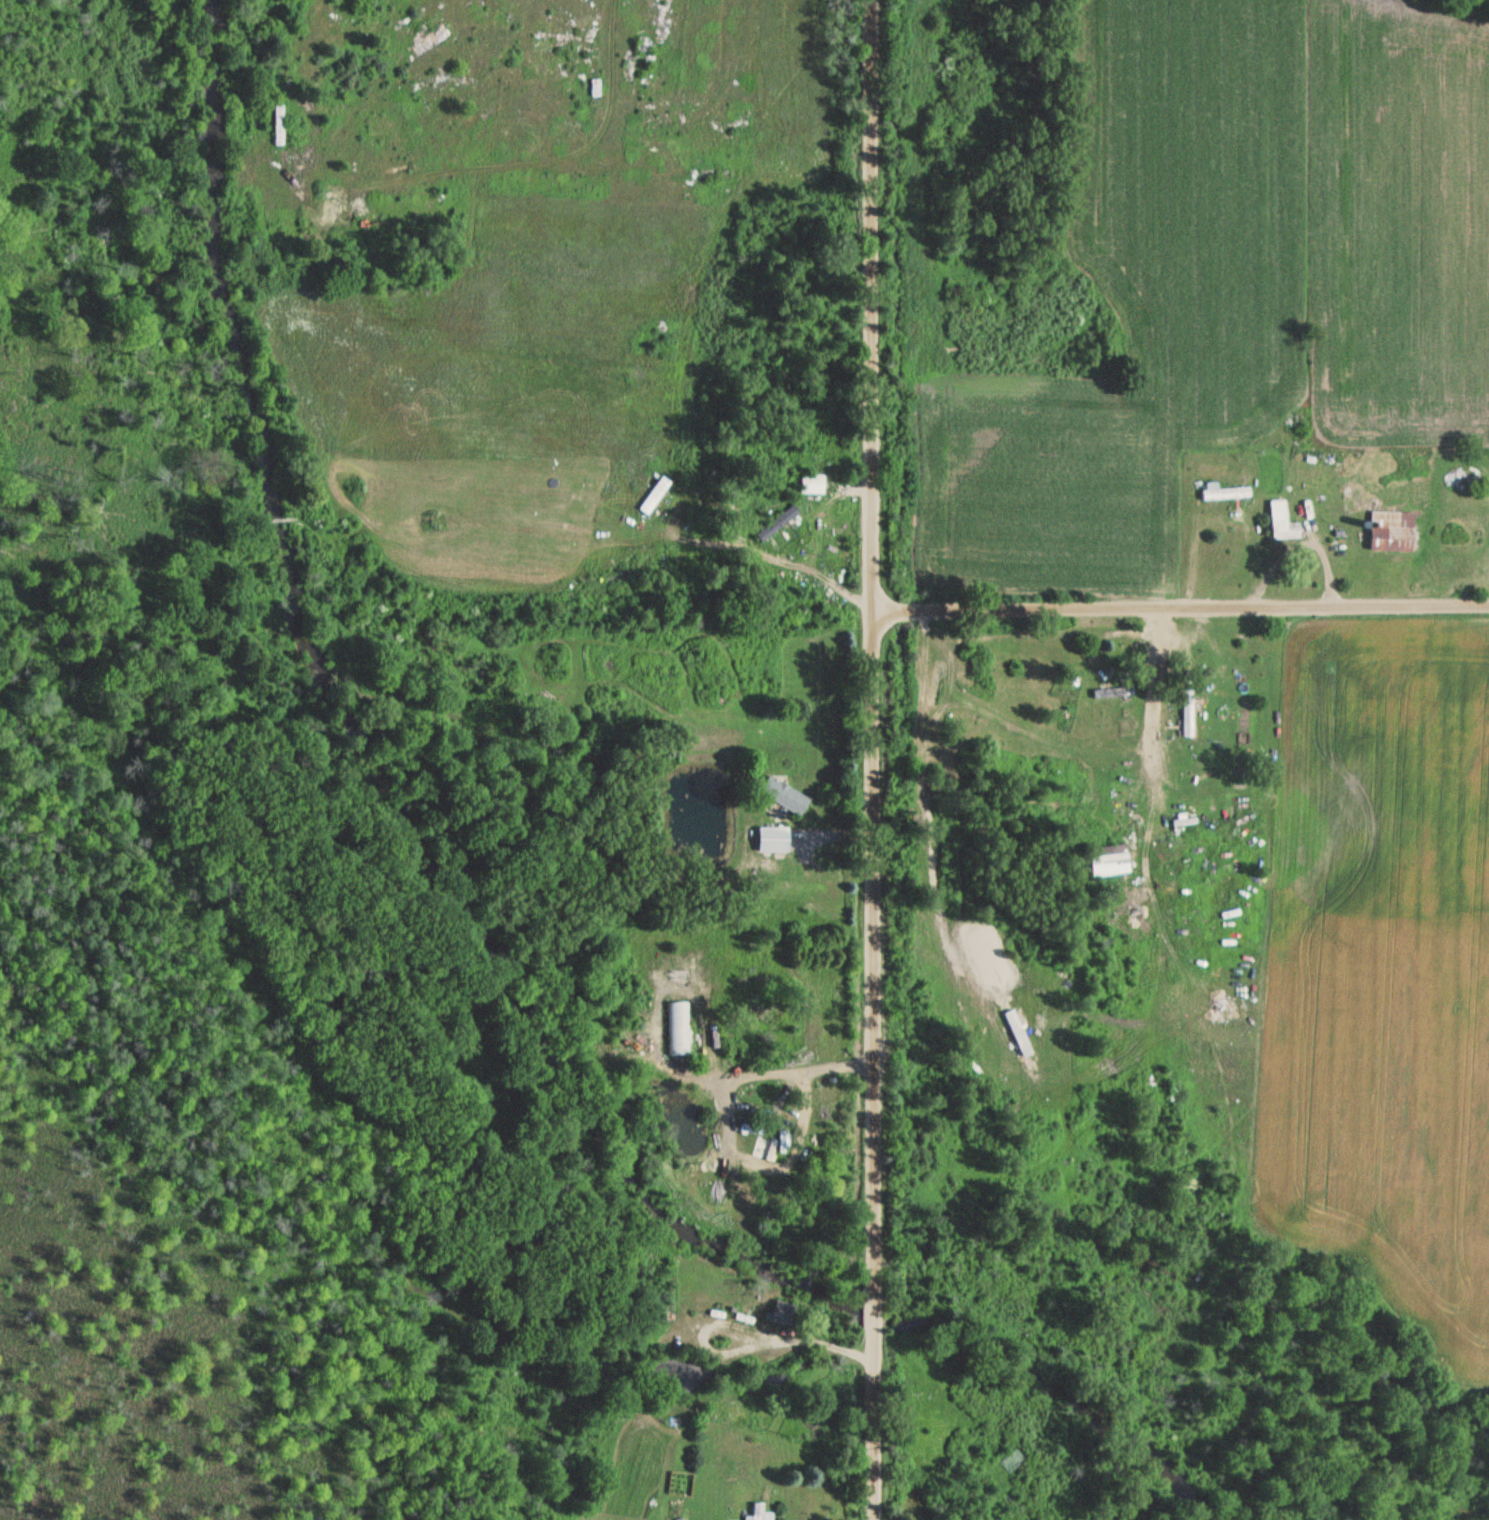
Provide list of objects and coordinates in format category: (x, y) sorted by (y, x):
building: (275, 130)
building: (811, 484)
building: (1225, 494)
building: (1282, 522)
building: (777, 524)
building: (1392, 532)
road: (1180, 601)
building: (1107, 697)
building: (1189, 713)
road: (1146, 737)
road: (872, 759)
building: (784, 796)
building: (772, 841)
building: (1108, 861)
building: (677, 1029)
road: (794, 1071)
building: (770, 1151)
building: (758, 1512)

